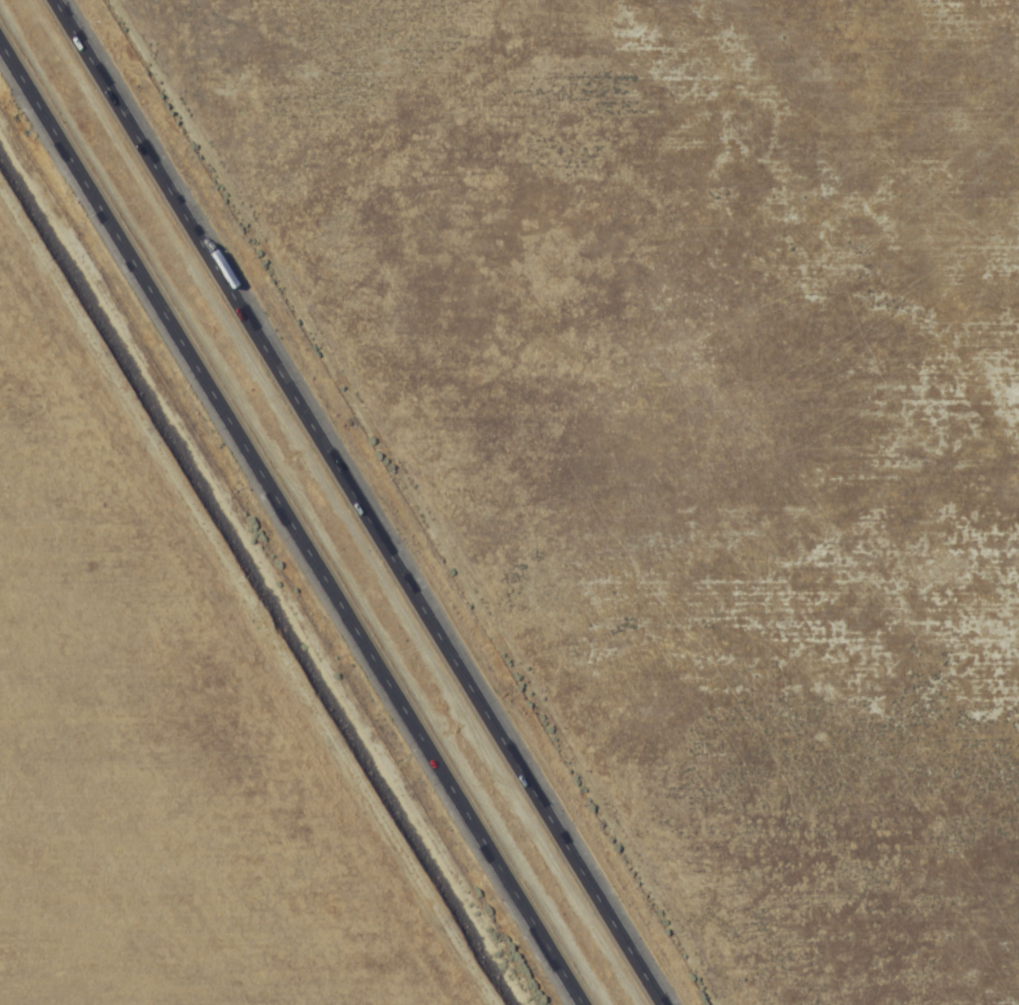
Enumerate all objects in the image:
road: (362, 502)
road: (292, 521)

